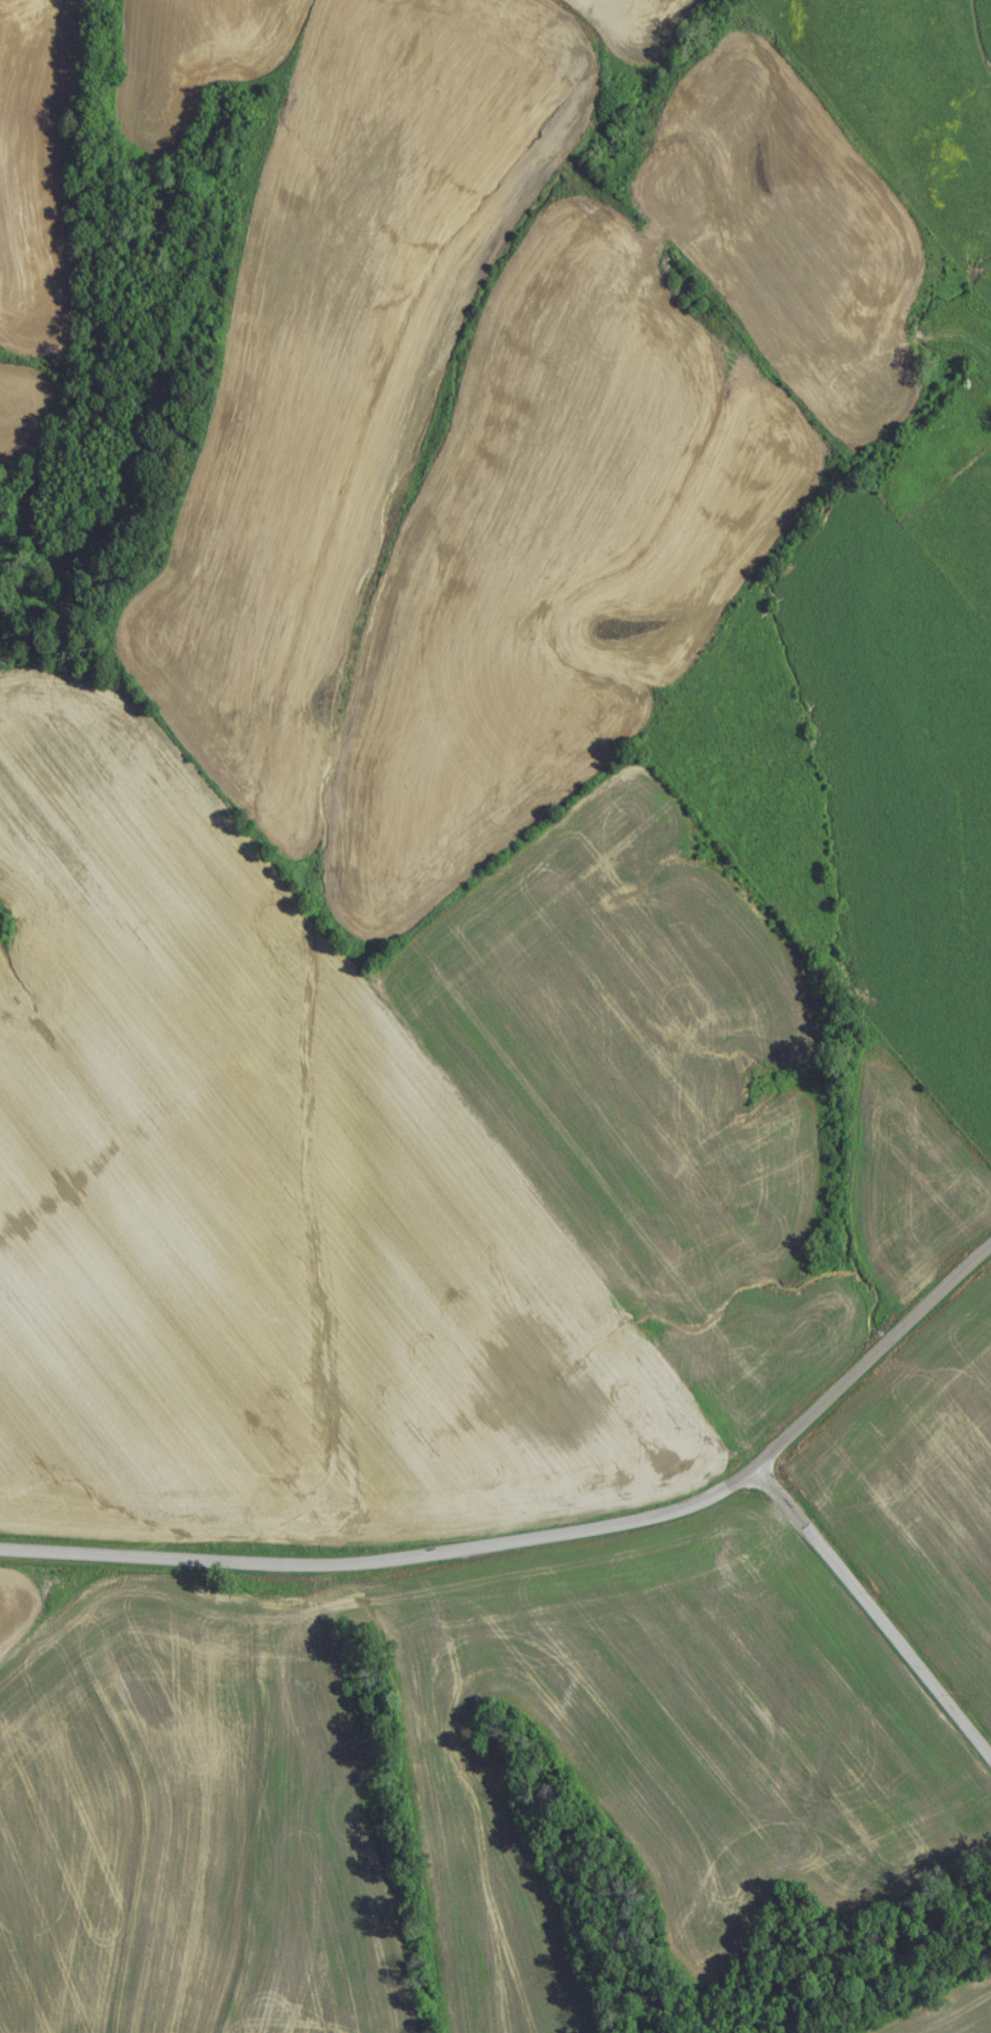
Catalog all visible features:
road: (545, 1541)
road: (874, 1624)

